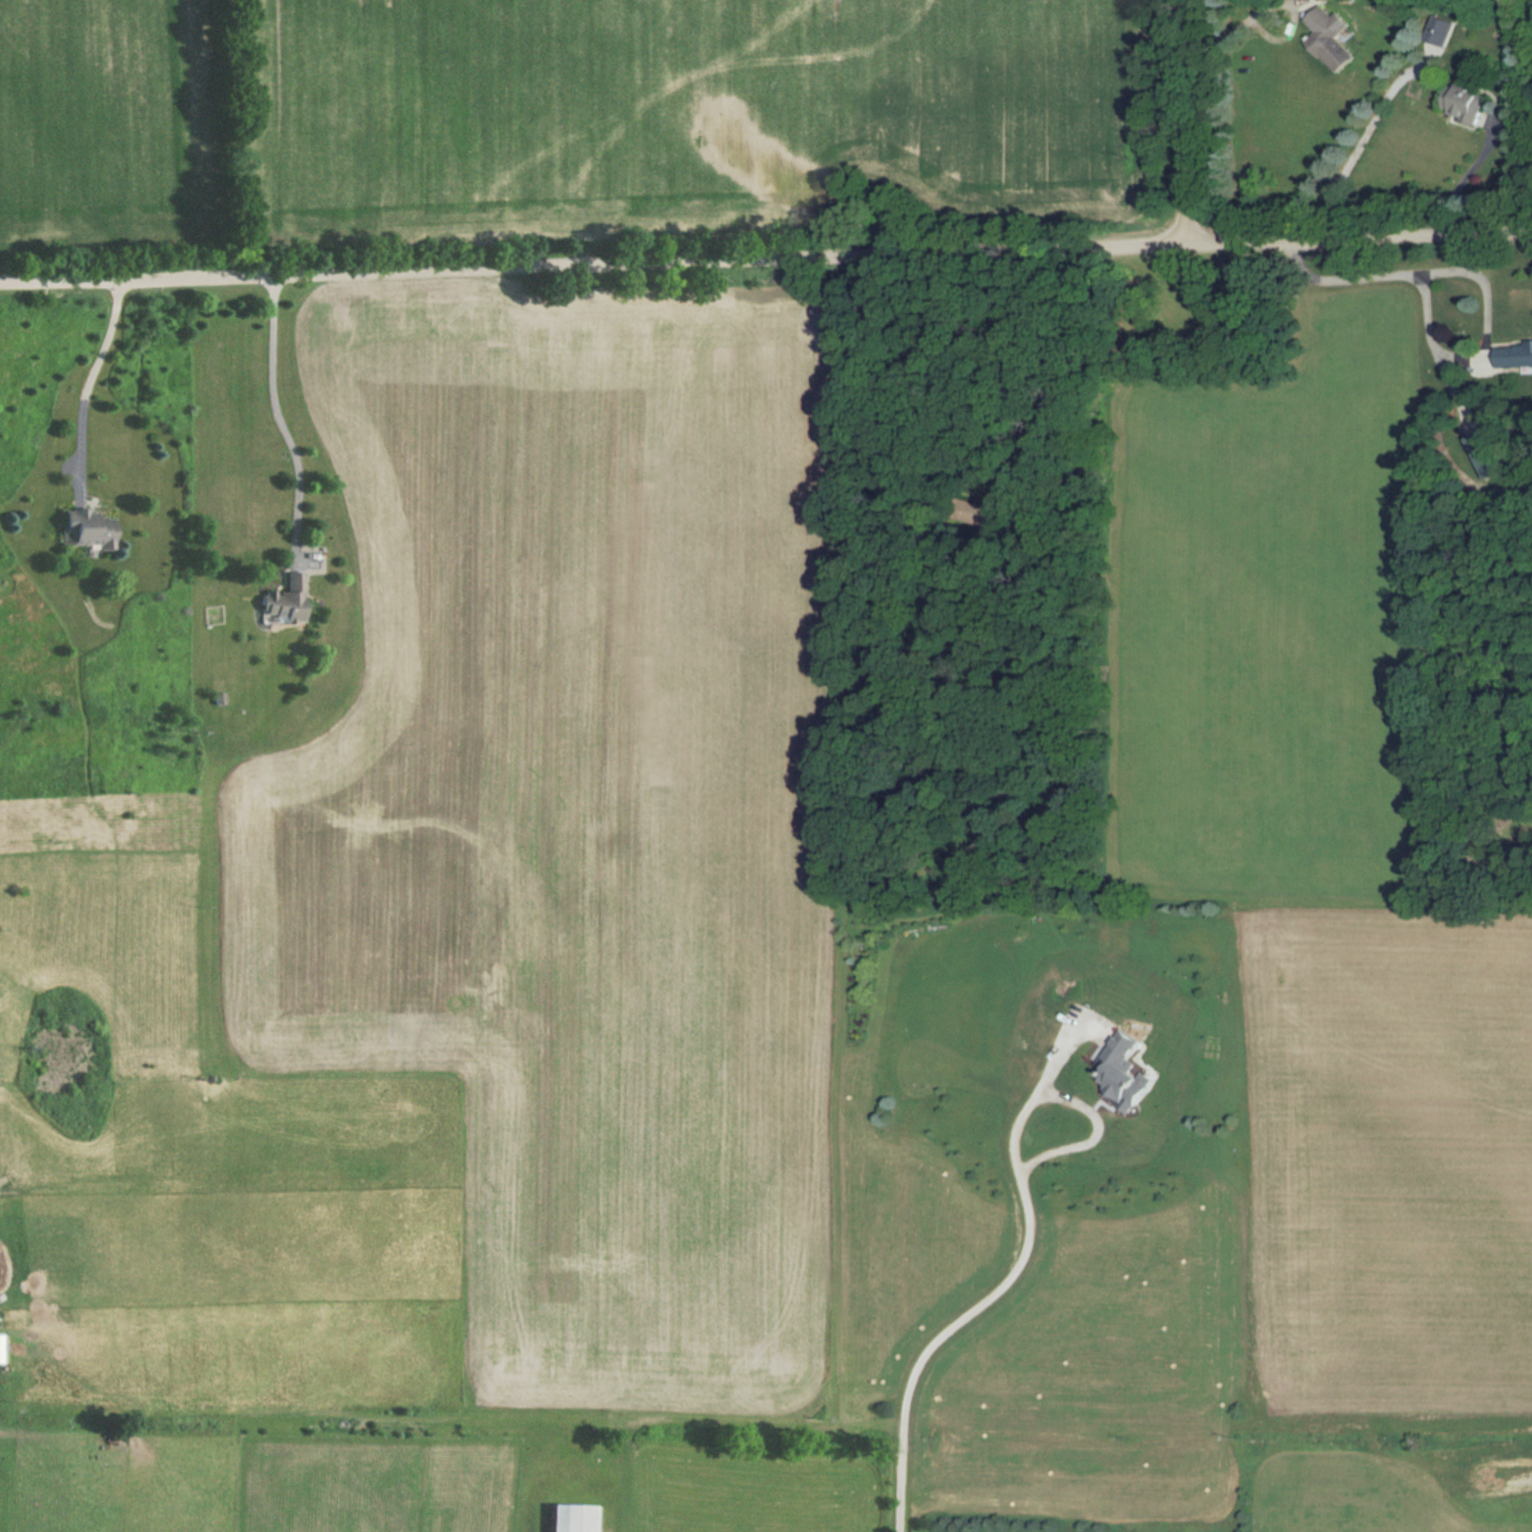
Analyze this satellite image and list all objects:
road: (1267, 5)
building: (1328, 37)
building: (1464, 102)
road: (1184, 122)
road: (1362, 135)
road: (1465, 181)
road: (766, 258)
road: (1478, 276)
building: (1515, 354)
road: (1049, 355)
road: (86, 388)
road: (279, 426)
building: (1486, 452)
building: (286, 600)
road: (1080, 1111)
road: (950, 1344)
building: (573, 1517)

